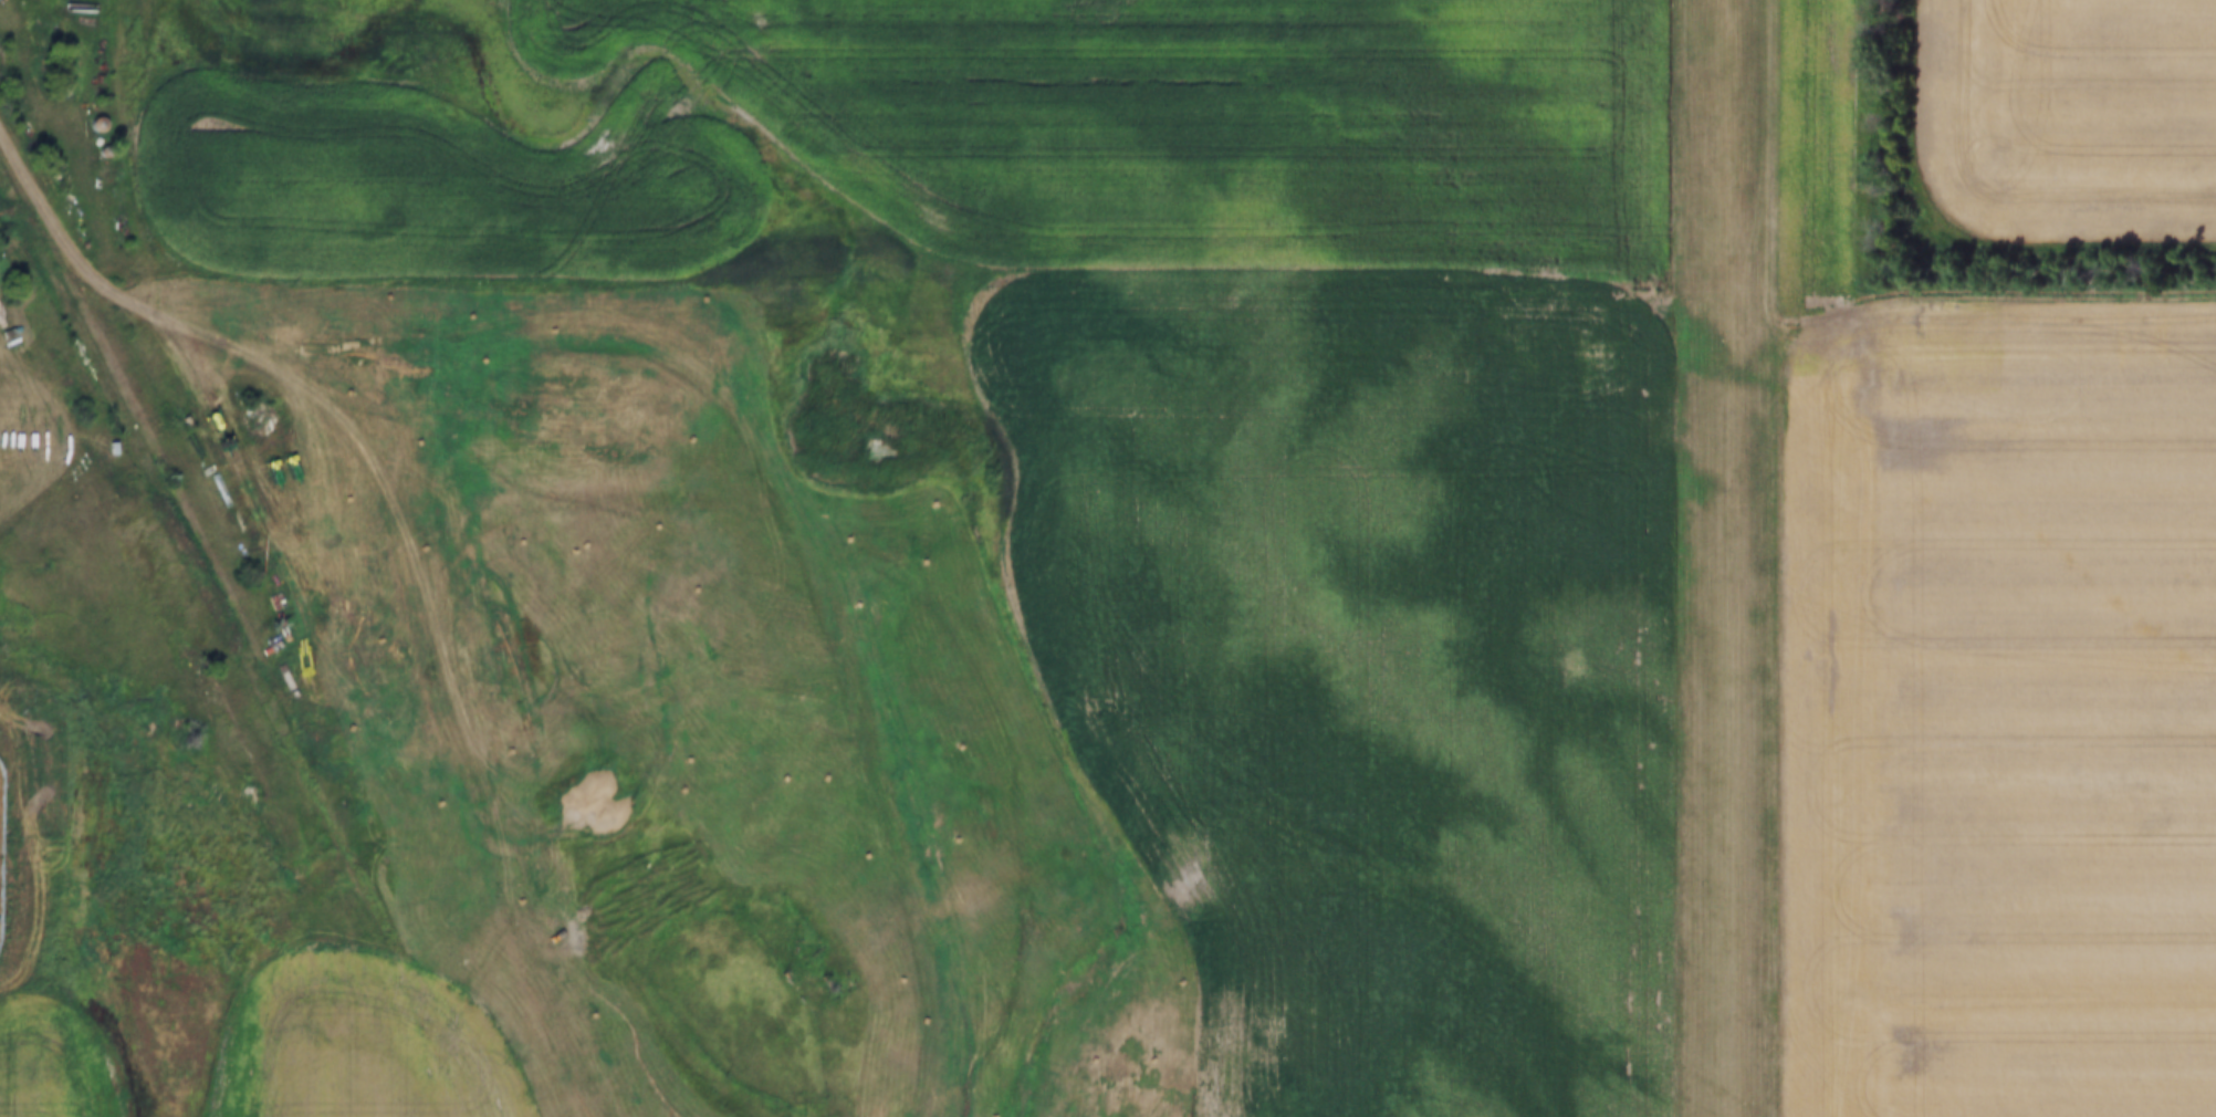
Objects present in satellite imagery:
road: (159, 310)
airport runway: (1723, 558)
airport: (1724, 558)

